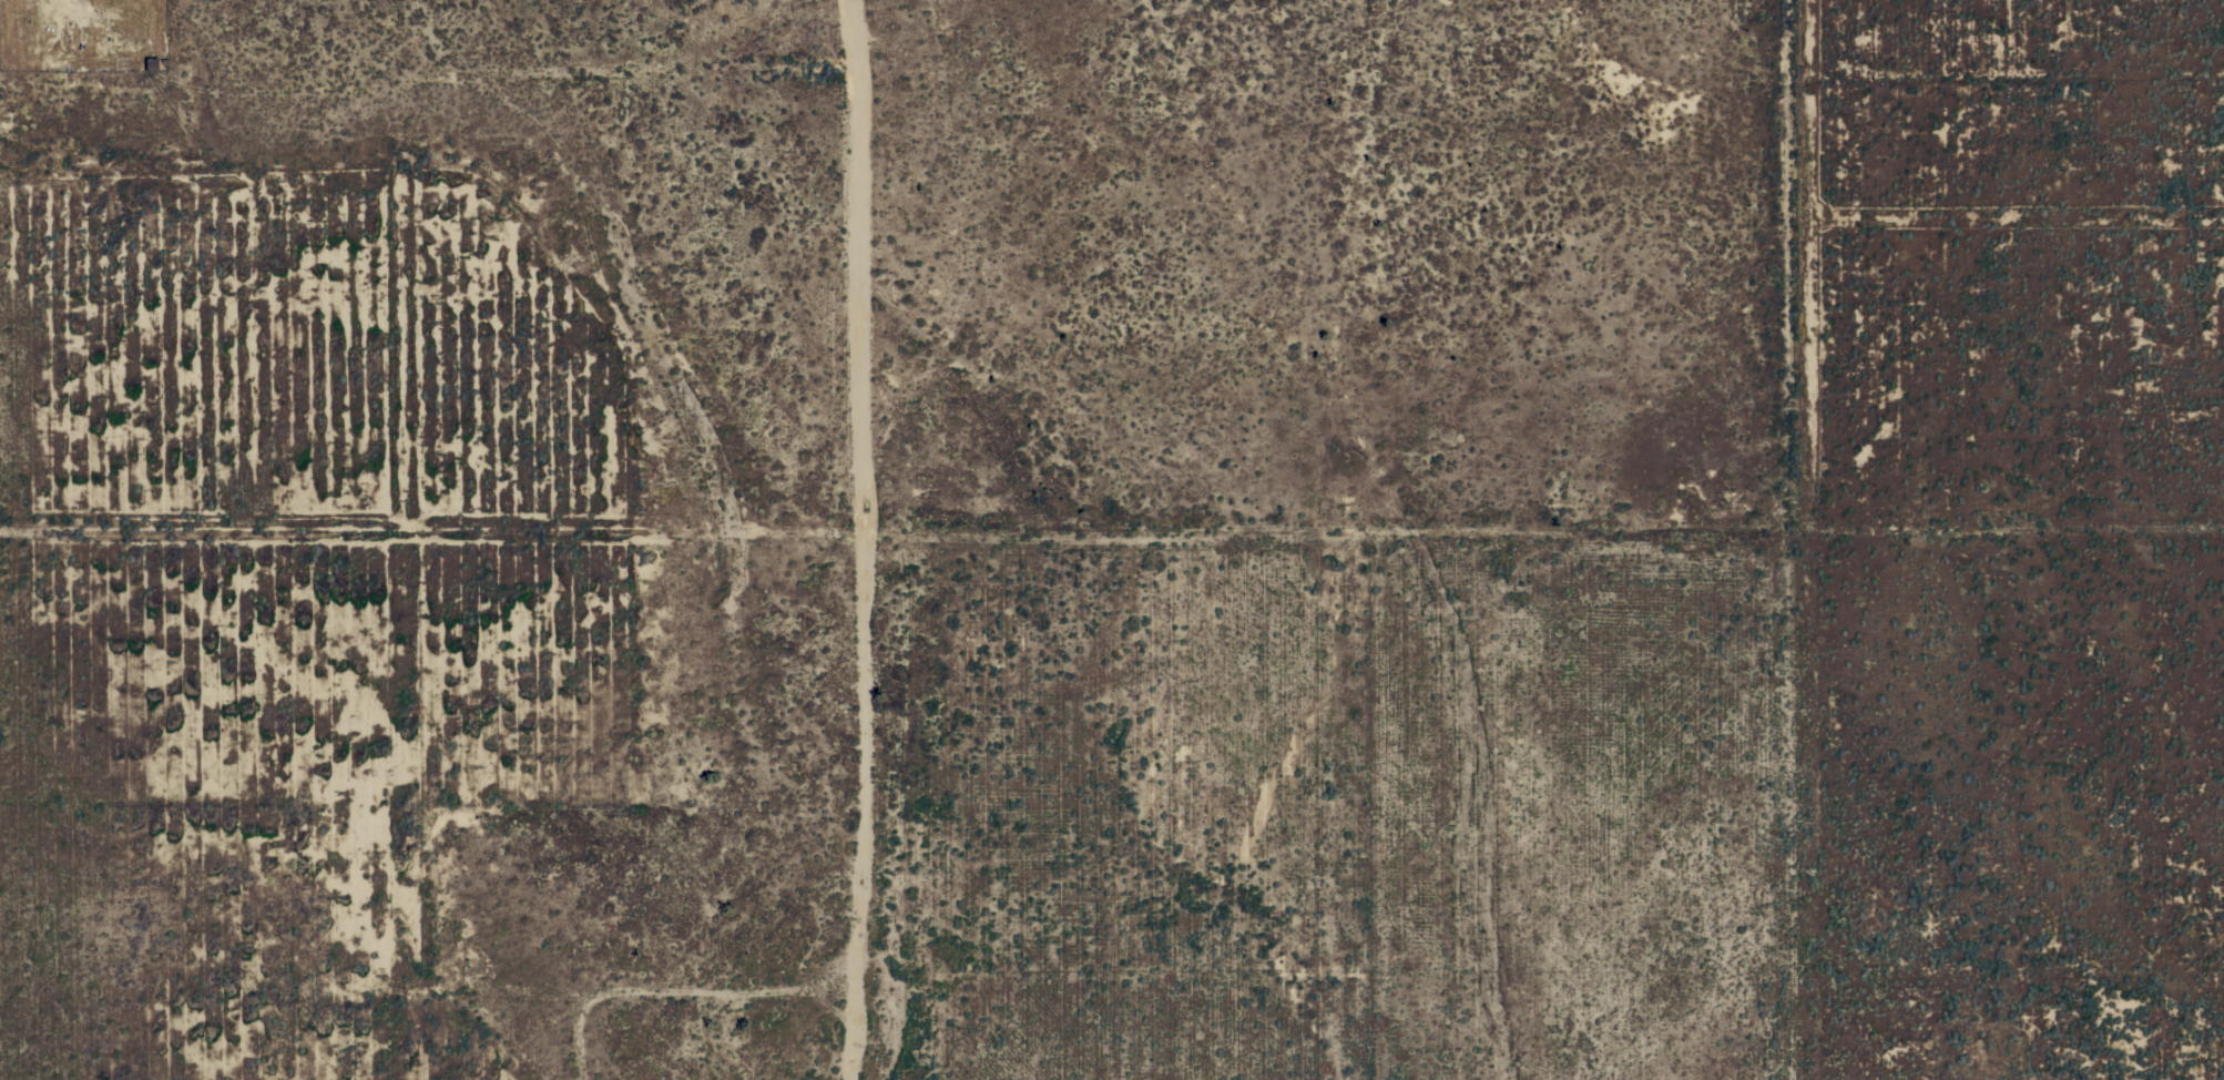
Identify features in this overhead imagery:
road: (869, 540)
road: (1442, 540)

